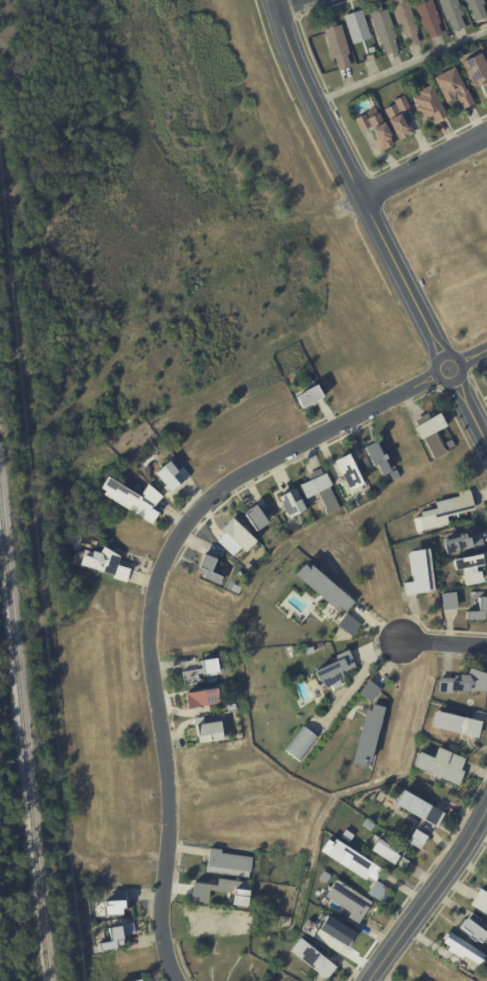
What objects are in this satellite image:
road: (292, 4)
building: (476, 9)
building: (452, 13)
building: (428, 17)
building: (405, 22)
building: (355, 26)
building: (383, 28)
building: (336, 44)
building: (459, 54)
road: (400, 65)
building: (476, 70)
building: (453, 88)
building: (429, 105)
building: (398, 118)
building: (375, 130)
road: (424, 167)
road: (371, 216)
building: (311, 396)
building: (430, 432)
building: (376, 455)
building: (347, 469)
building: (394, 473)
building: (172, 476)
building: (319, 489)
building: (131, 497)
building: (291, 505)
building: (443, 511)
building: (256, 517)
building: (236, 533)
building: (462, 541)
building: (104, 562)
building: (210, 565)
building: (468, 566)
building: (419, 571)
road: (164, 578)
building: (322, 586)
building: (448, 599)
building: (478, 608)
building: (348, 623)
road: (443, 642)
building: (309, 650)
building: (210, 665)
building: (333, 668)
building: (189, 676)
building: (464, 682)
building: (368, 690)
building: (201, 696)
building: (230, 707)
building: (455, 723)
building: (210, 731)
building: (367, 735)
building: (299, 742)
railway: (25, 748)
building: (440, 764)
building: (418, 808)
building: (368, 824)
building: (345, 835)
building: (416, 839)
building: (388, 853)
building: (349, 859)
building: (228, 863)
building: (221, 890)
building: (377, 891)
road: (431, 899)
building: (348, 901)
building: (479, 901)
building: (111, 907)
building: (473, 928)
building: (335, 930)
building: (111, 939)
building: (462, 949)
building: (310, 957)
building: (136, 980)

